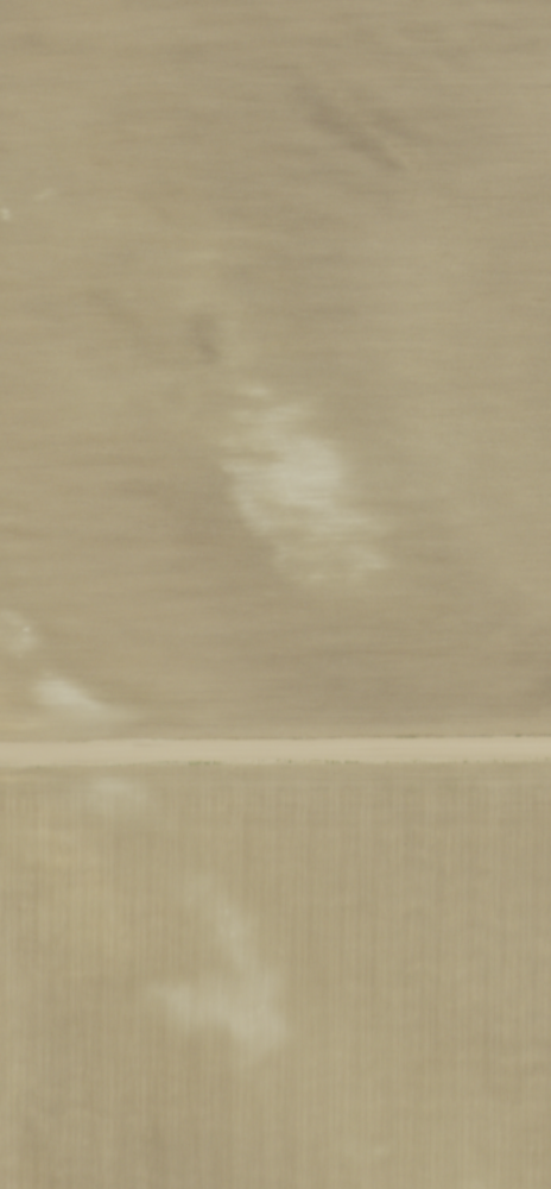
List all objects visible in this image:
crop: (274, 363)
road: (274, 744)
crop: (275, 979)

